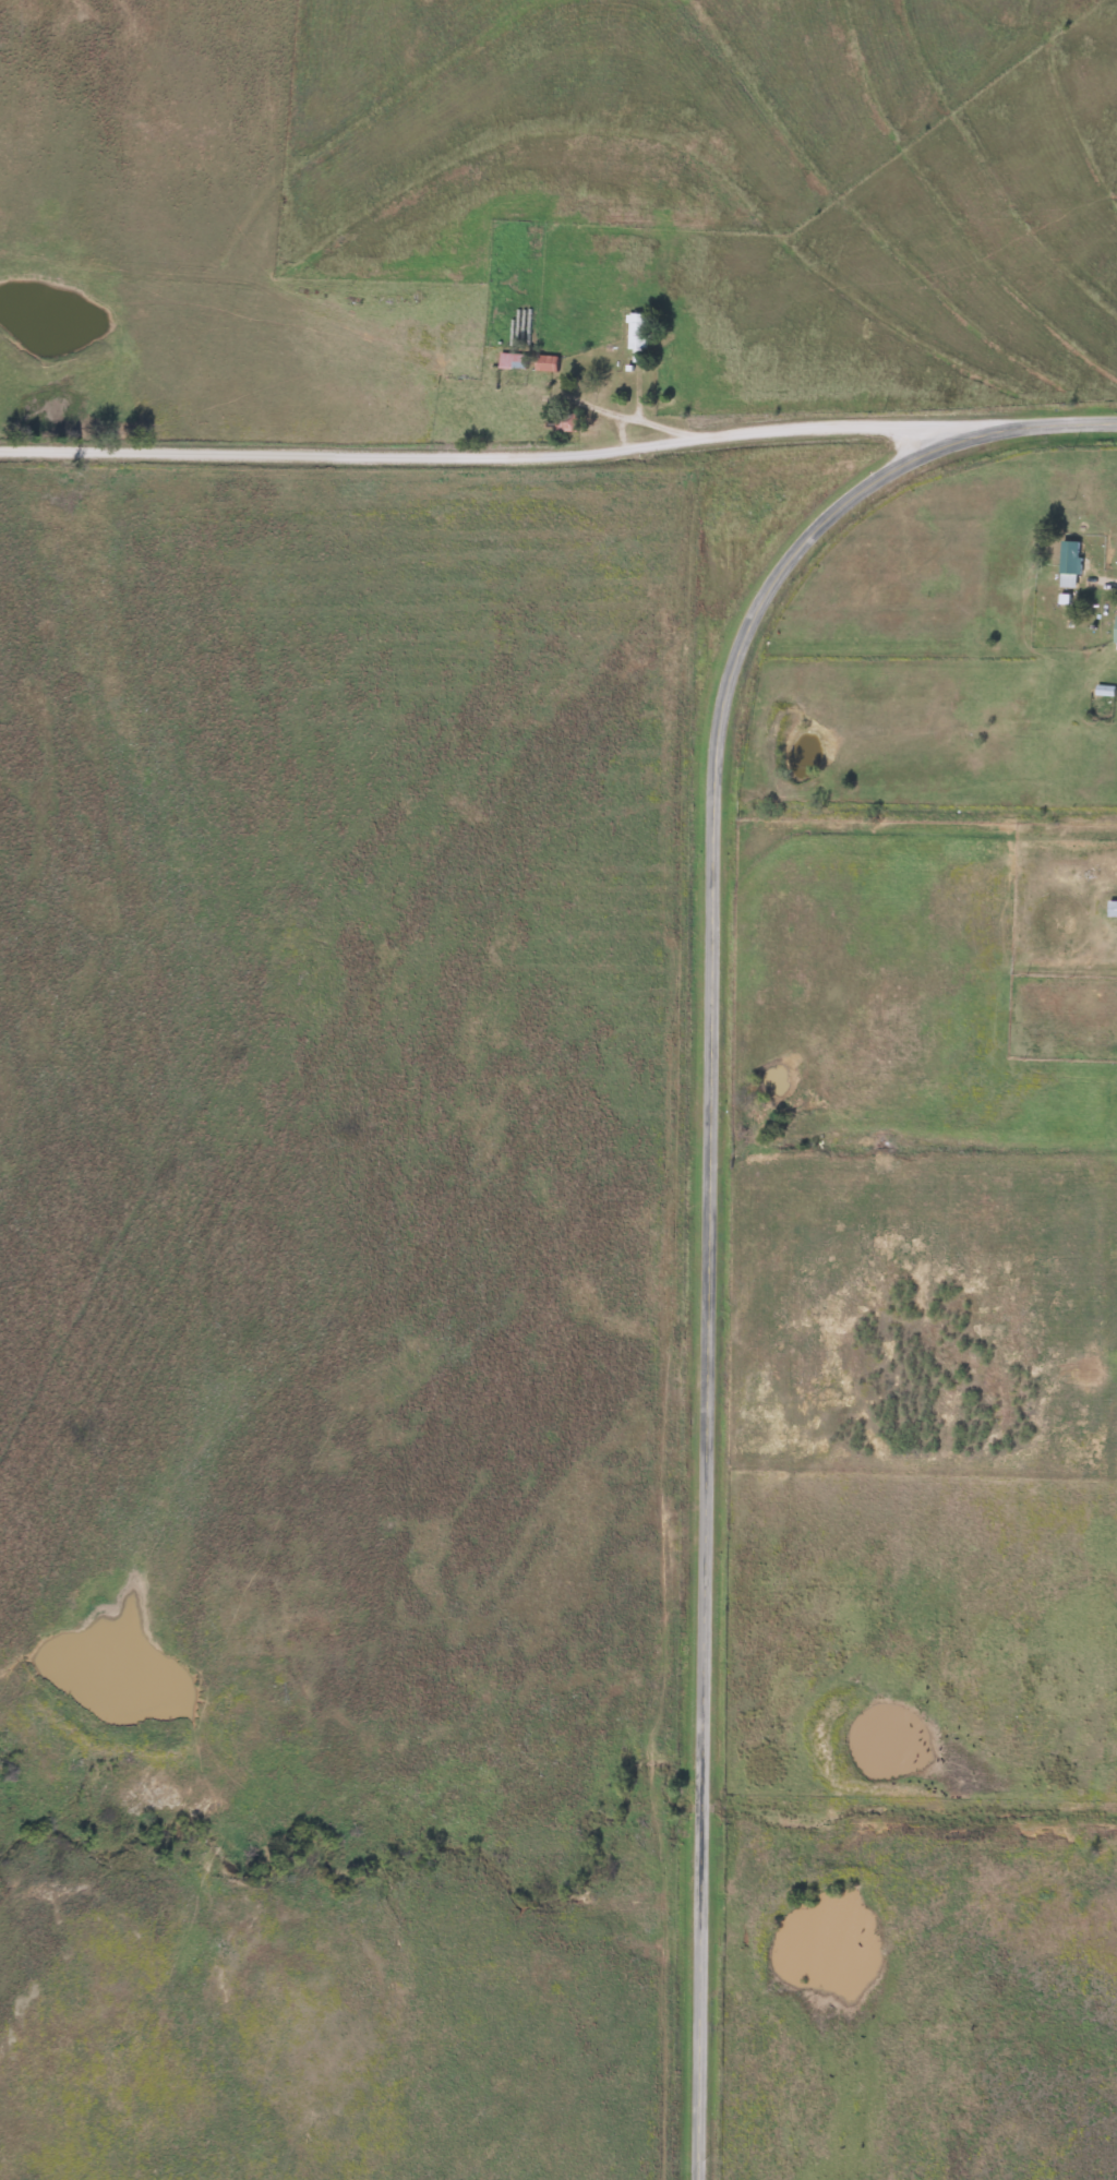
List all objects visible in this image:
building: (636, 334)
building: (511, 360)
building: (544, 362)
building: (565, 421)
road: (480, 456)
building: (1068, 564)
building: (1114, 630)
building: (1110, 909)
road: (708, 1176)

